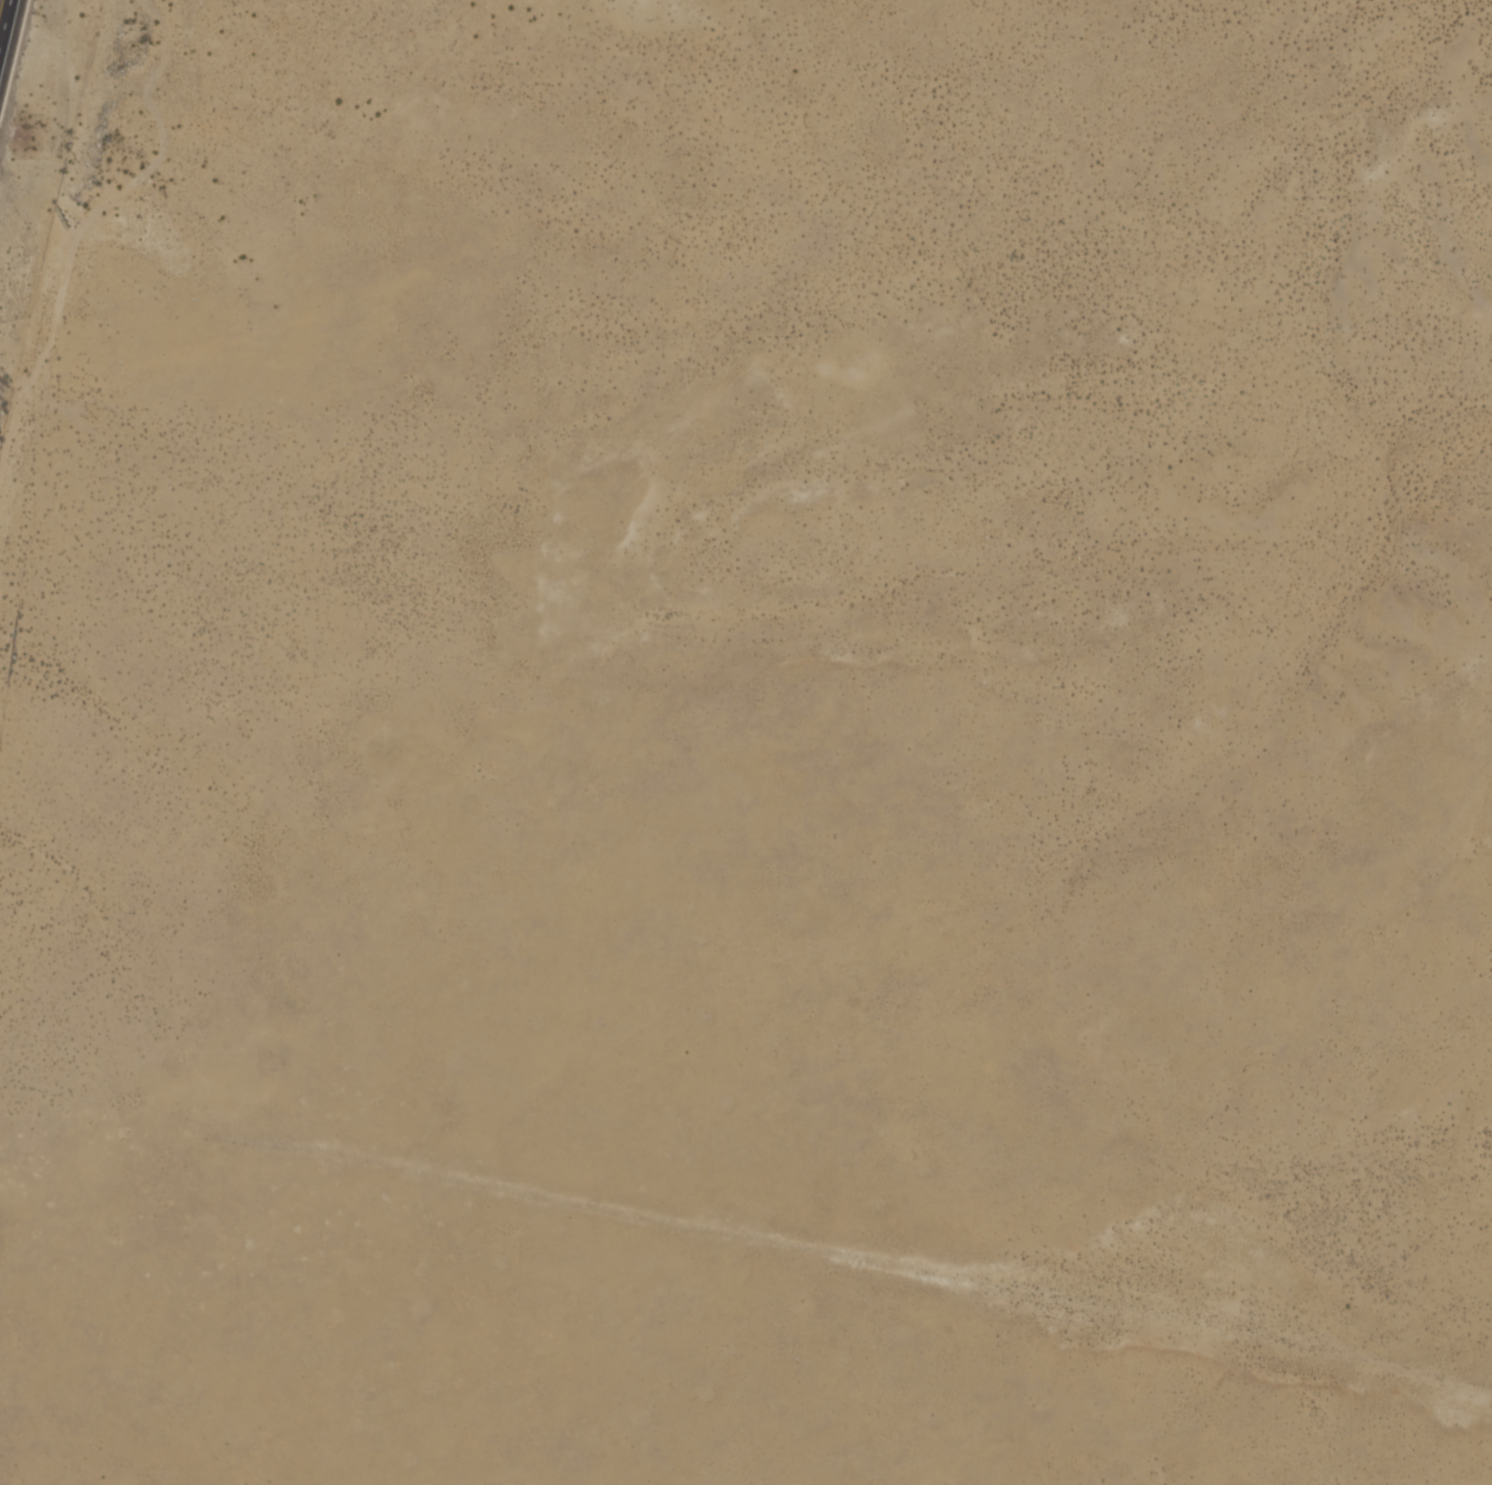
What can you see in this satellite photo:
road: (7, 30)

